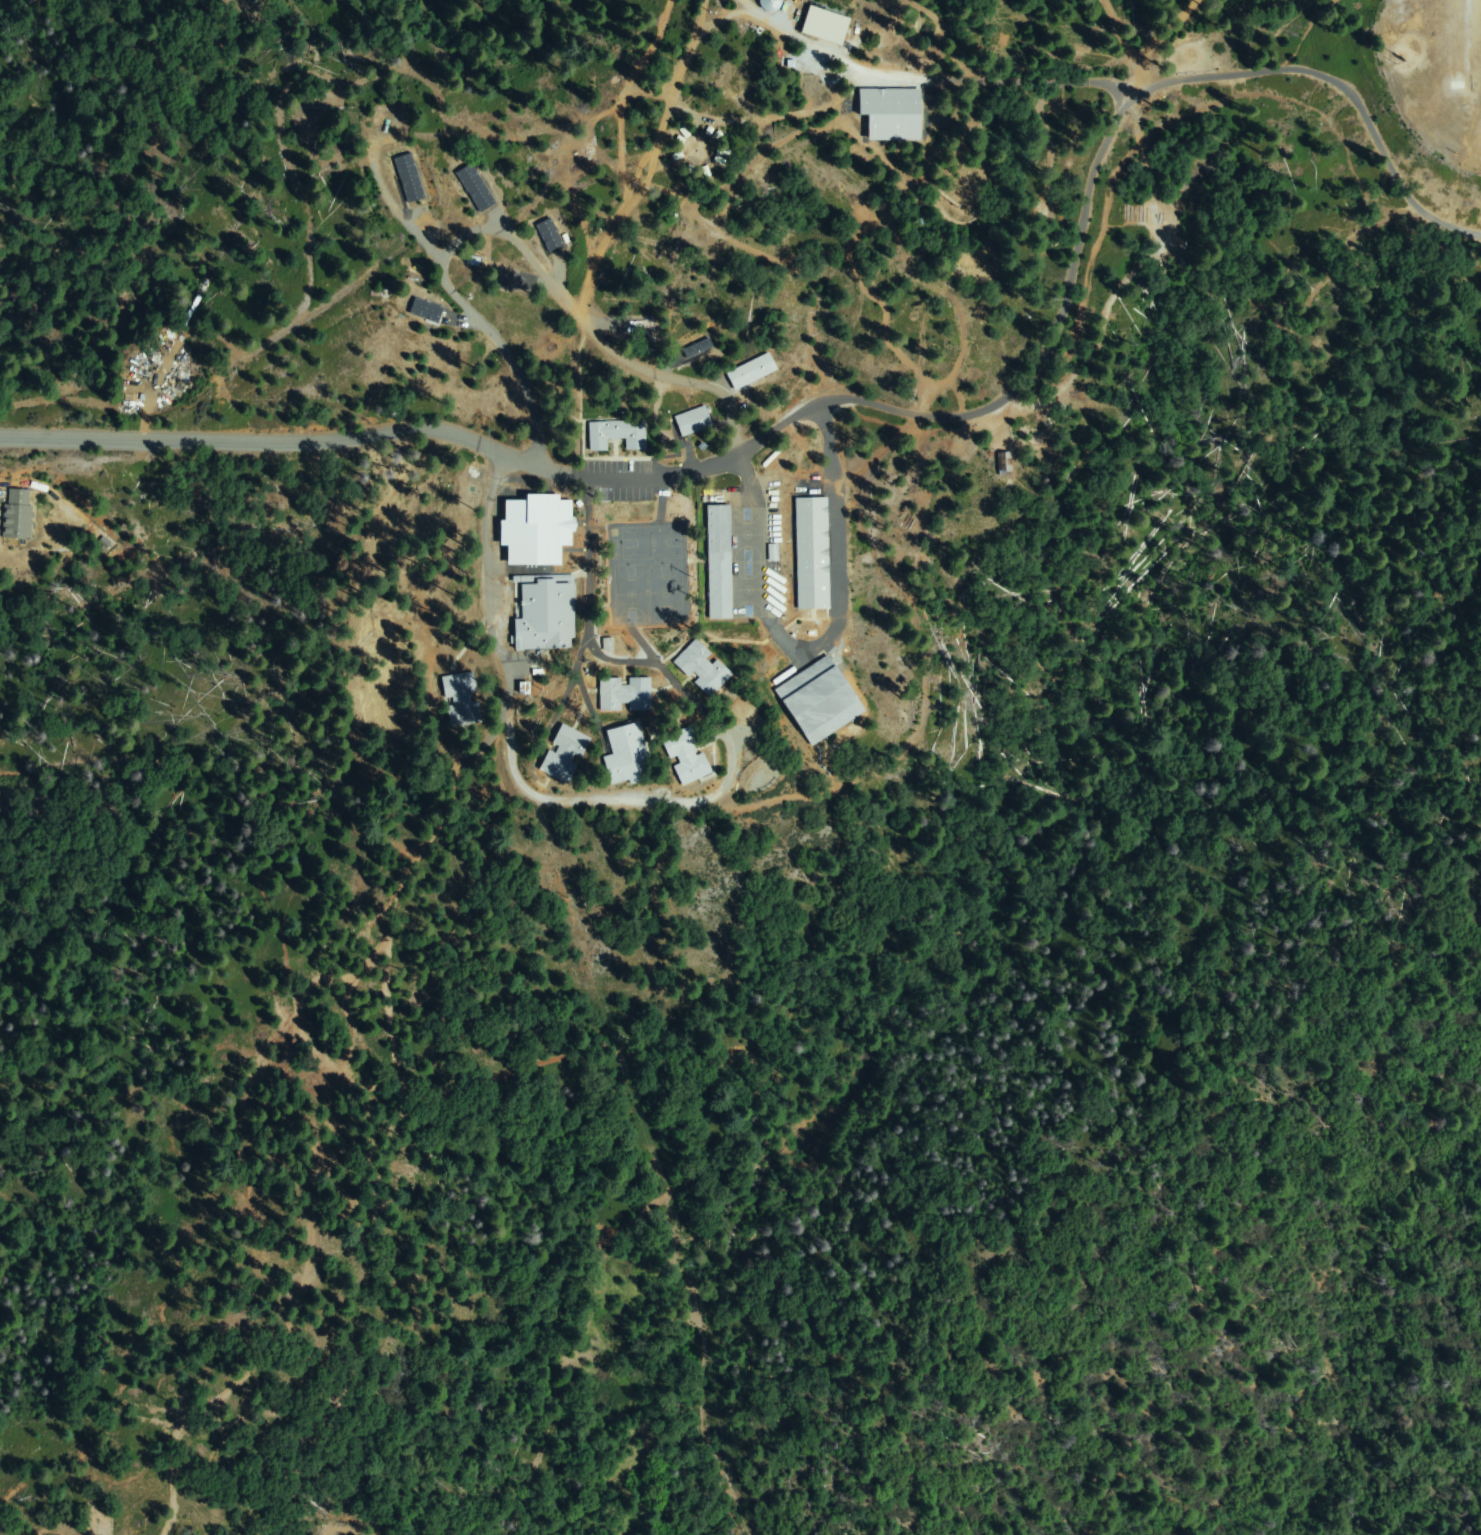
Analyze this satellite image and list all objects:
building: (762, 3)
storage tank: (770, 4)
building: (825, 27)
road: (1346, 89)
building: (891, 114)
building: (684, 132)
building: (708, 132)
building: (679, 140)
building: (676, 147)
building: (723, 153)
building: (677, 157)
building: (719, 161)
building: (689, 168)
building: (705, 172)
building: (407, 178)
building: (470, 187)
building: (483, 188)
road: (872, 203)
building: (545, 234)
building: (555, 234)
building: (470, 263)
building: (426, 304)
building: (693, 349)
building: (751, 372)
building: (694, 422)
building: (616, 434)
building: (1004, 464)
road: (725, 472)
building: (17, 515)
building: (535, 529)
building: (105, 542)
building: (812, 553)
building: (719, 562)
building: (545, 614)
building: (702, 667)
building: (625, 694)
building: (463, 701)
building: (818, 701)
building: (565, 753)
building: (686, 756)
building: (626, 757)

